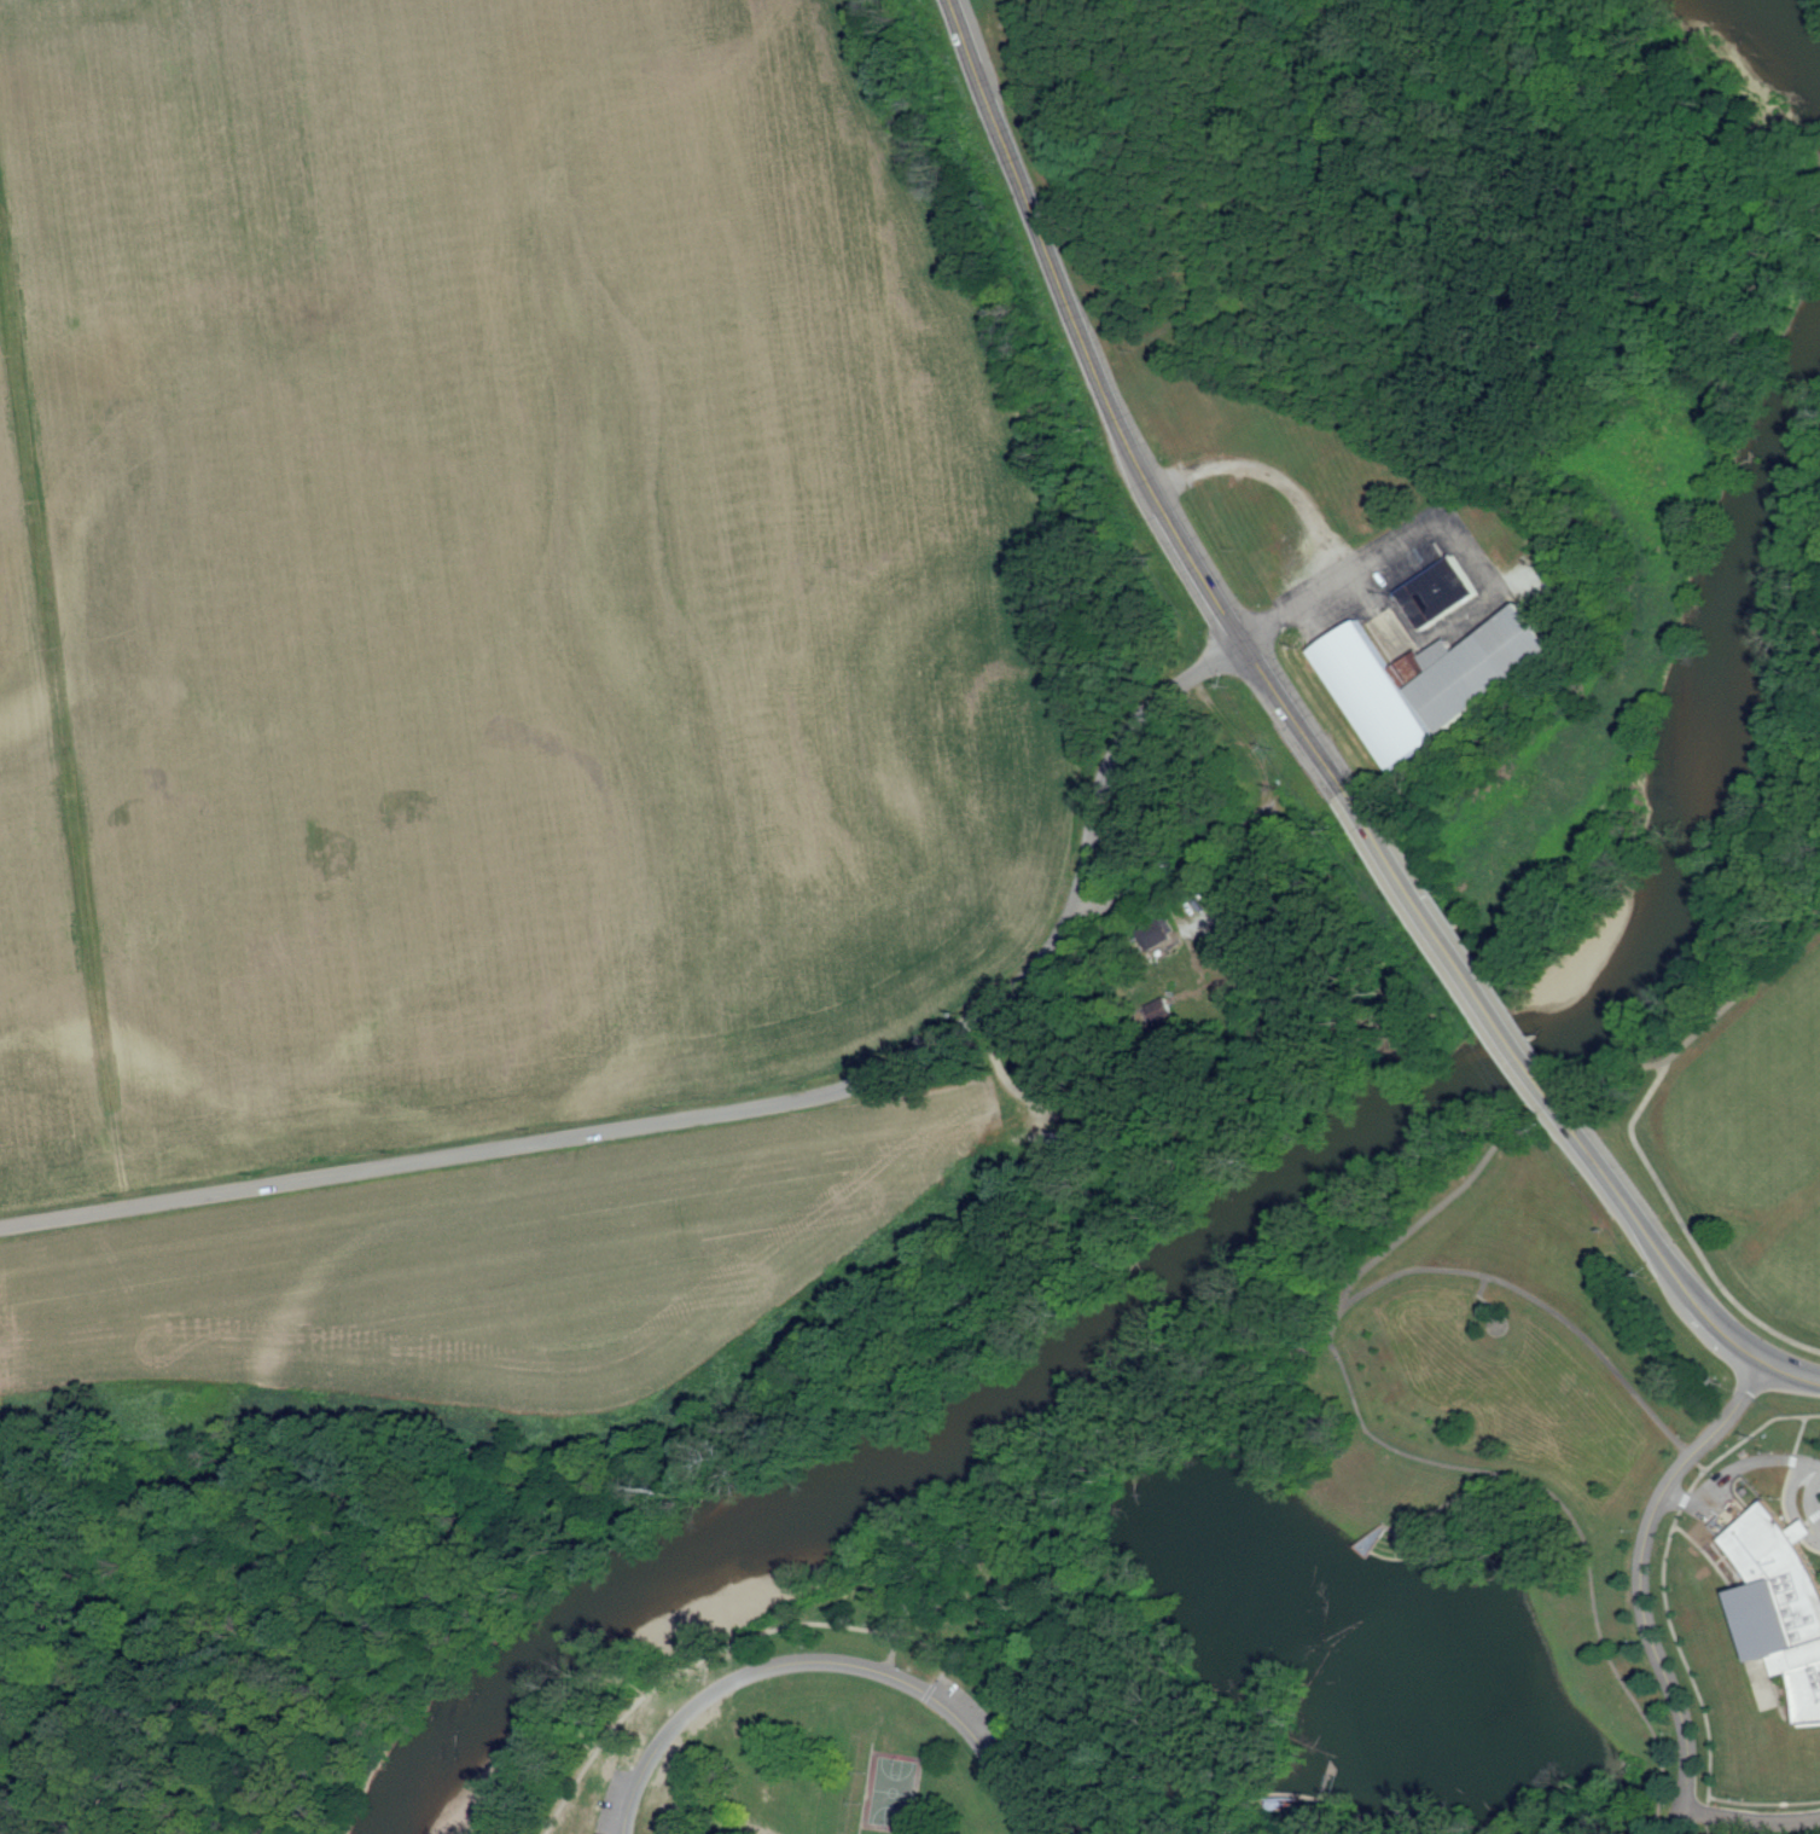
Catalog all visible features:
river: (1785, 19)
road: (1080, 330)
parking lot: (1429, 545)
road: (1384, 551)
road: (1348, 569)
crop: (484, 571)
building: (1434, 591)
building: (1477, 669)
building: (1370, 695)
road: (1293, 718)
road: (1235, 824)
road: (1764, 941)
road: (1459, 962)
park: (1750, 1037)
road: (1000, 1073)
road: (735, 1112)
road: (1686, 1226)
river: (1283, 1234)
road: (1661, 1254)
road: (1548, 1306)
road: (1287, 1350)
road: (1790, 1375)
road: (1756, 1430)
road: (1735, 1466)
road: (1813, 1504)
road: (1431, 1509)
road: (1819, 1526)
road: (1583, 1539)
park: (1307, 1581)
road: (1640, 1584)
building: (1778, 1602)
road: (921, 1643)
road: (822, 1662)
road: (686, 1666)
road: (1694, 1684)
parking lot: (995, 1746)
park: (889, 1791)
parking lot: (614, 1799)
road: (1321, 1800)
road: (1176, 1815)
road: (1750, 1820)
road: (1388, 1830)

